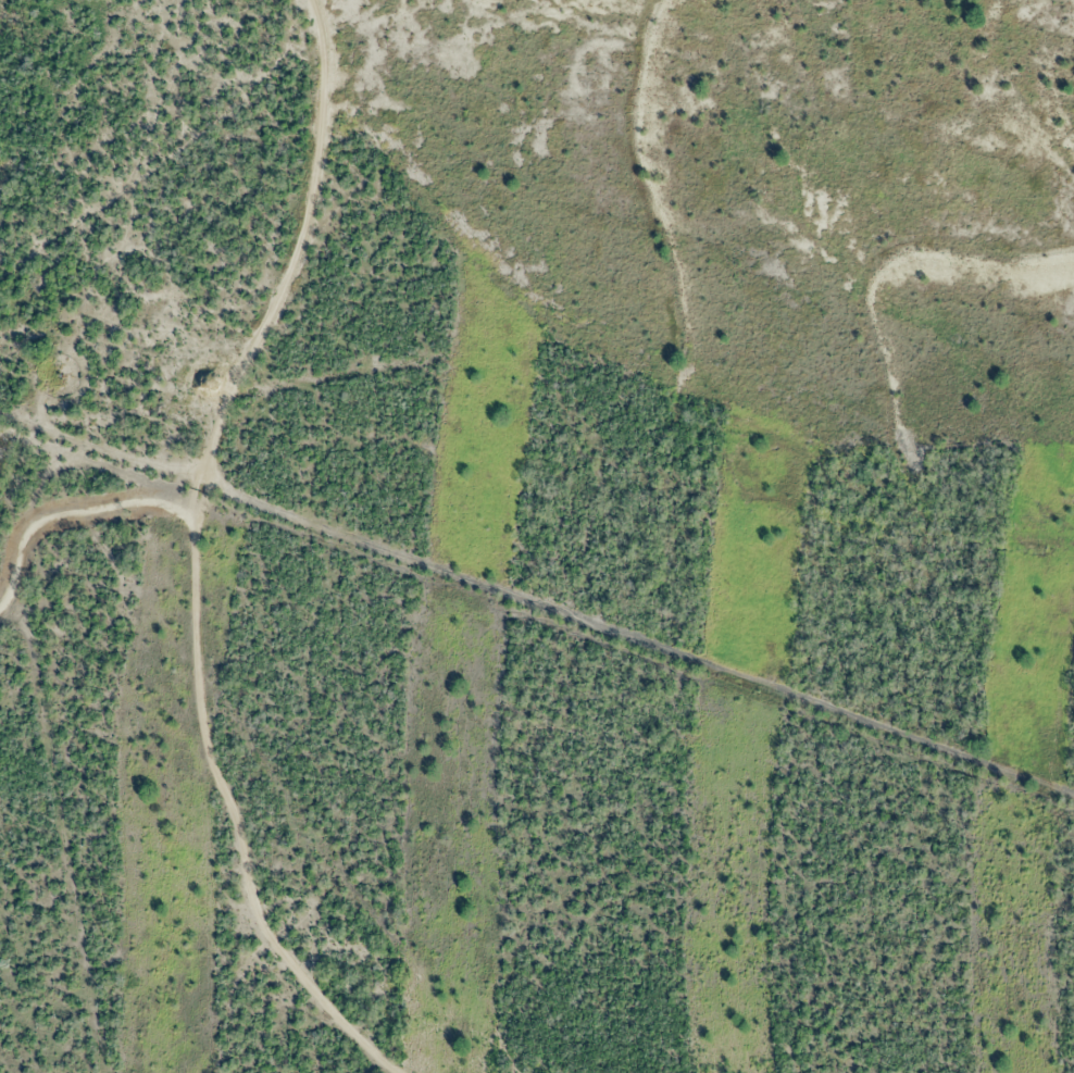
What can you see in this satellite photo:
road: (70, 508)
road: (193, 558)

